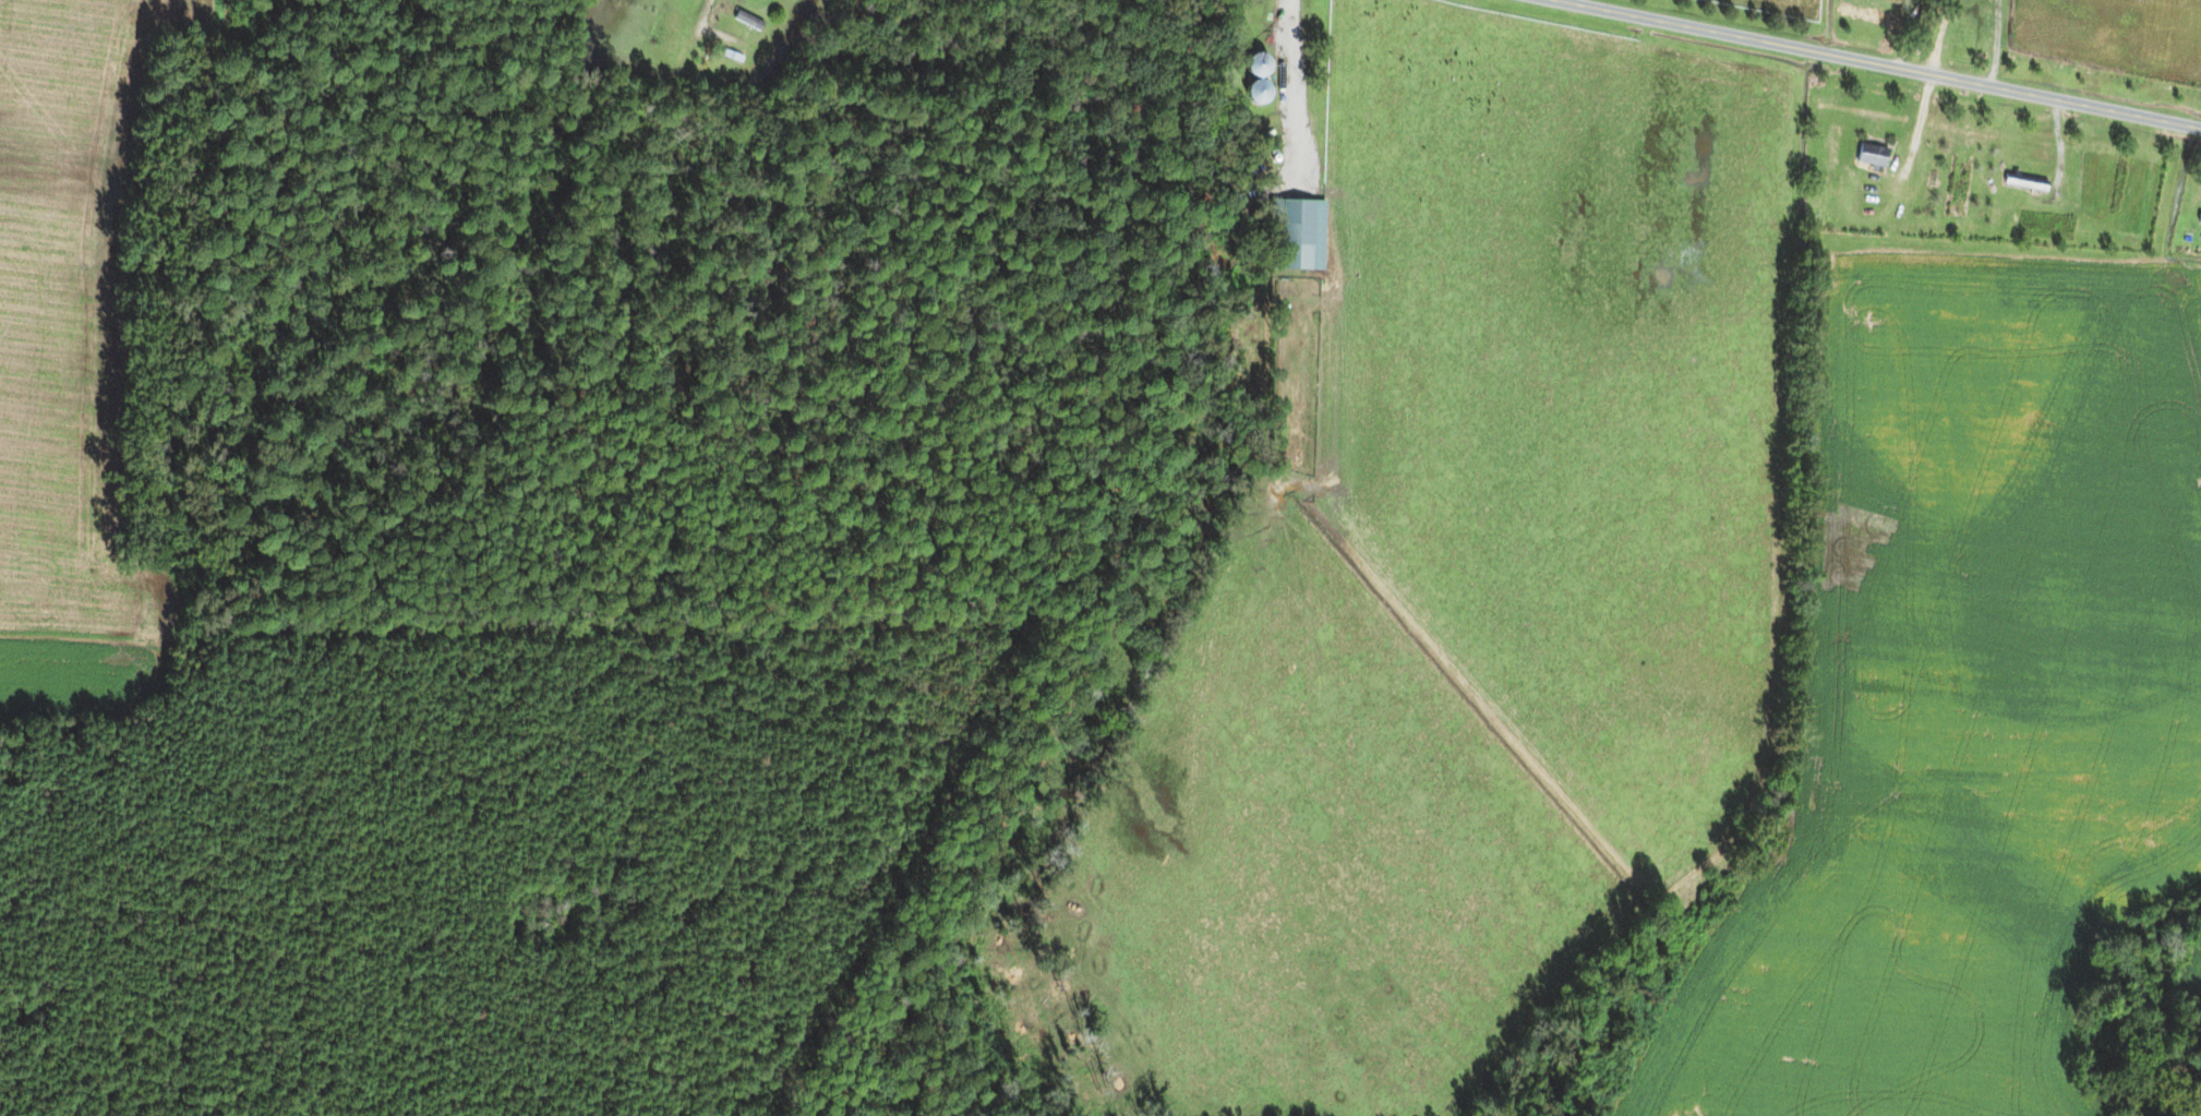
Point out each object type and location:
building: (1863, 12)
building: (748, 20)
road: (697, 21)
road: (1874, 63)
building: (1873, 156)
building: (2026, 182)
building: (2199, 218)
building: (1296, 233)

